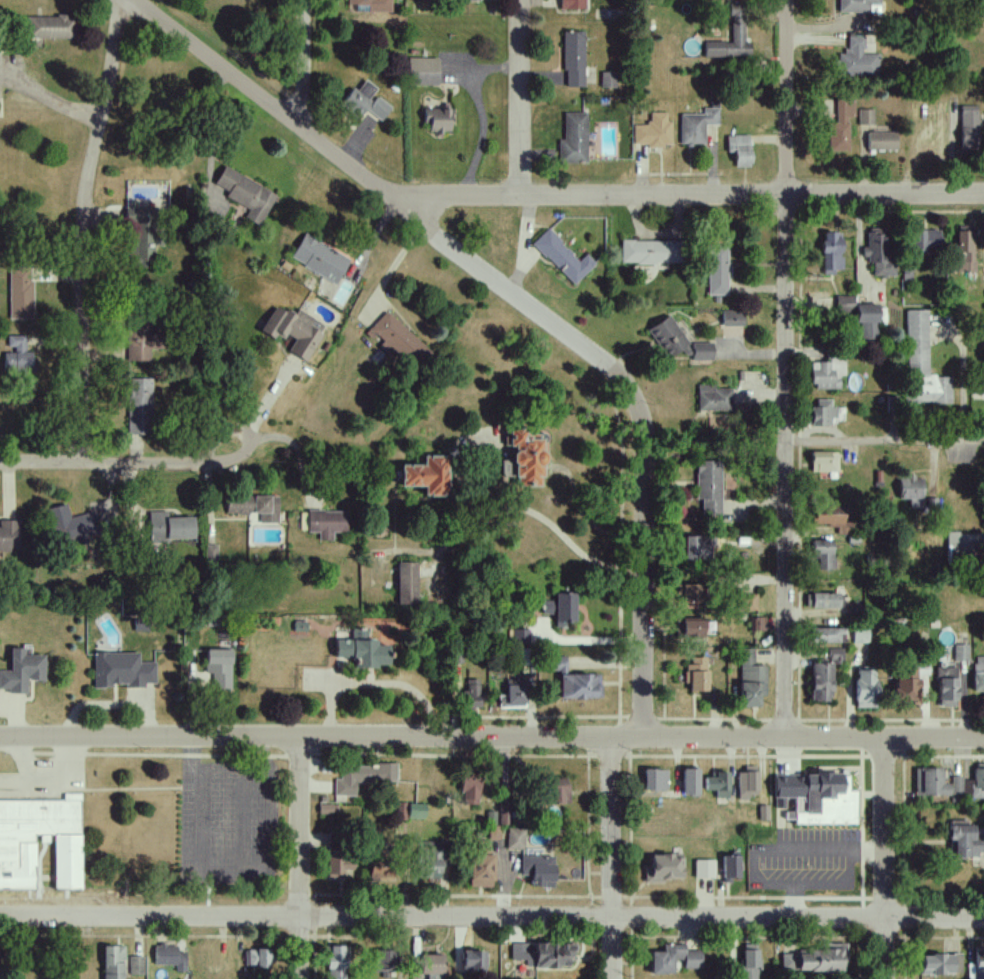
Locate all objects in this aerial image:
building: (465, 0)
building: (573, 4)
building: (371, 5)
building: (857, 6)
building: (48, 27)
building: (731, 38)
building: (573, 59)
building: (857, 60)
road: (304, 63)
building: (422, 71)
building: (607, 80)
road: (51, 96)
road: (519, 98)
building: (358, 99)
building: (379, 109)
road: (480, 113)
road: (213, 117)
building: (866, 117)
building: (437, 120)
building: (968, 125)
building: (697, 126)
building: (840, 127)
building: (653, 131)
building: (573, 138)
building: (882, 140)
building: (739, 149)
building: (245, 195)
road: (687, 196)
road: (86, 228)
building: (138, 237)
building: (926, 240)
building: (879, 250)
building: (966, 251)
building: (650, 252)
building: (831, 252)
building: (562, 257)
building: (318, 258)
building: (717, 270)
building: (19, 292)
road: (520, 300)
building: (860, 315)
building: (733, 318)
building: (294, 330)
building: (669, 337)
building: (398, 341)
building: (139, 342)
building: (701, 351)
building: (16, 355)
building: (922, 364)
road: (790, 368)
building: (827, 374)
building: (714, 398)
building: (139, 405)
road: (264, 407)
building: (822, 412)
road: (887, 441)
building: (523, 457)
road: (117, 459)
building: (824, 461)
building: (425, 475)
building: (708, 486)
building: (911, 491)
building: (254, 506)
building: (831, 517)
building: (326, 523)
building: (68, 526)
building: (169, 527)
road: (559, 531)
building: (9, 535)
building: (964, 543)
building: (695, 547)
building: (822, 554)
building: (407, 583)
building: (691, 593)
building: (822, 601)
building: (747, 602)
building: (560, 609)
building: (758, 623)
building: (692, 628)
building: (357, 634)
building: (518, 635)
building: (826, 635)
building: (859, 636)
building: (361, 652)
building: (960, 652)
building: (558, 664)
building: (217, 667)
building: (120, 670)
building: (21, 671)
building: (978, 673)
building: (697, 674)
building: (824, 675)
building: (750, 679)
road: (398, 683)
building: (579, 686)
building: (946, 686)
building: (906, 687)
building: (864, 688)
building: (514, 693)
building: (470, 694)
road: (328, 712)
road: (492, 737)
building: (363, 777)
building: (654, 780)
building: (690, 782)
building: (747, 782)
building: (929, 782)
building: (718, 784)
building: (969, 784)
building: (469, 788)
building: (557, 791)
building: (816, 798)
building: (325, 809)
building: (400, 811)
building: (415, 811)
building: (515, 839)
building: (965, 840)
road: (806, 846)
road: (613, 857)
road: (300, 858)
building: (431, 859)
road: (885, 859)
building: (16, 861)
building: (339, 867)
building: (480, 867)
building: (730, 867)
building: (663, 868)
building: (703, 869)
building: (538, 870)
building: (379, 872)
road: (233, 879)
road: (819, 884)
road: (795, 901)
road: (492, 918)
building: (542, 954)
building: (169, 957)
building: (256, 958)
building: (673, 959)
building: (814, 960)
building: (472, 961)
building: (749, 961)
building: (112, 962)
building: (336, 963)
building: (382, 963)
building: (938, 964)
building: (135, 965)
building: (430, 966)
building: (979, 966)

